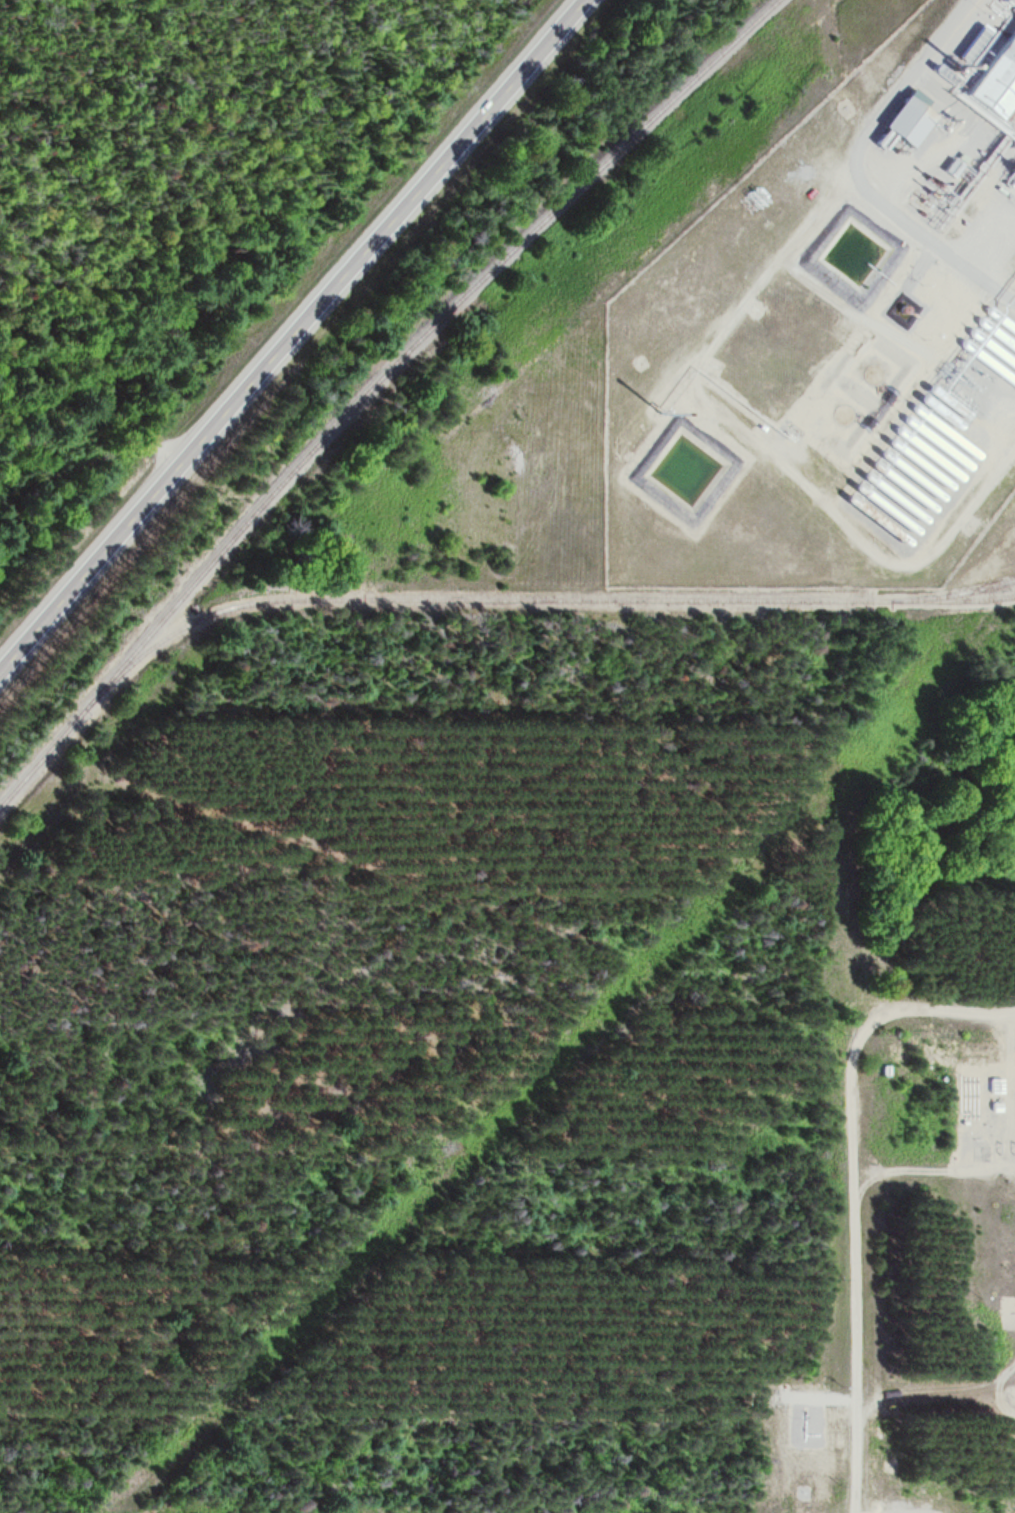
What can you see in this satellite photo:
building: (994, 76)
building: (905, 117)
road: (856, 172)
road: (289, 336)
railway: (374, 389)
railway: (965, 594)
railway: (541, 599)
building: (996, 1088)
road: (851, 1194)

